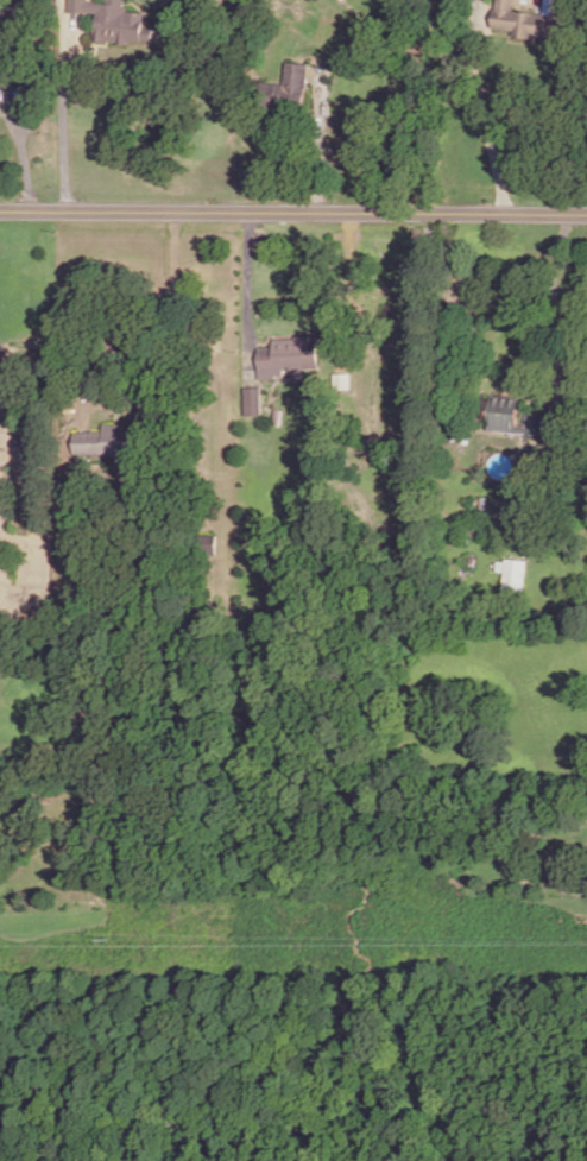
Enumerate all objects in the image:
building: (23, 5)
building: (532, 19)
building: (112, 20)
building: (286, 89)
road: (481, 116)
road: (63, 133)
road: (315, 146)
road: (20, 153)
road: (292, 215)
road: (246, 296)
road: (553, 323)
road: (175, 352)
building: (288, 356)
building: (2, 361)
building: (252, 403)
building: (512, 418)
building: (119, 442)
building: (512, 575)
power tower: (113, 938)

